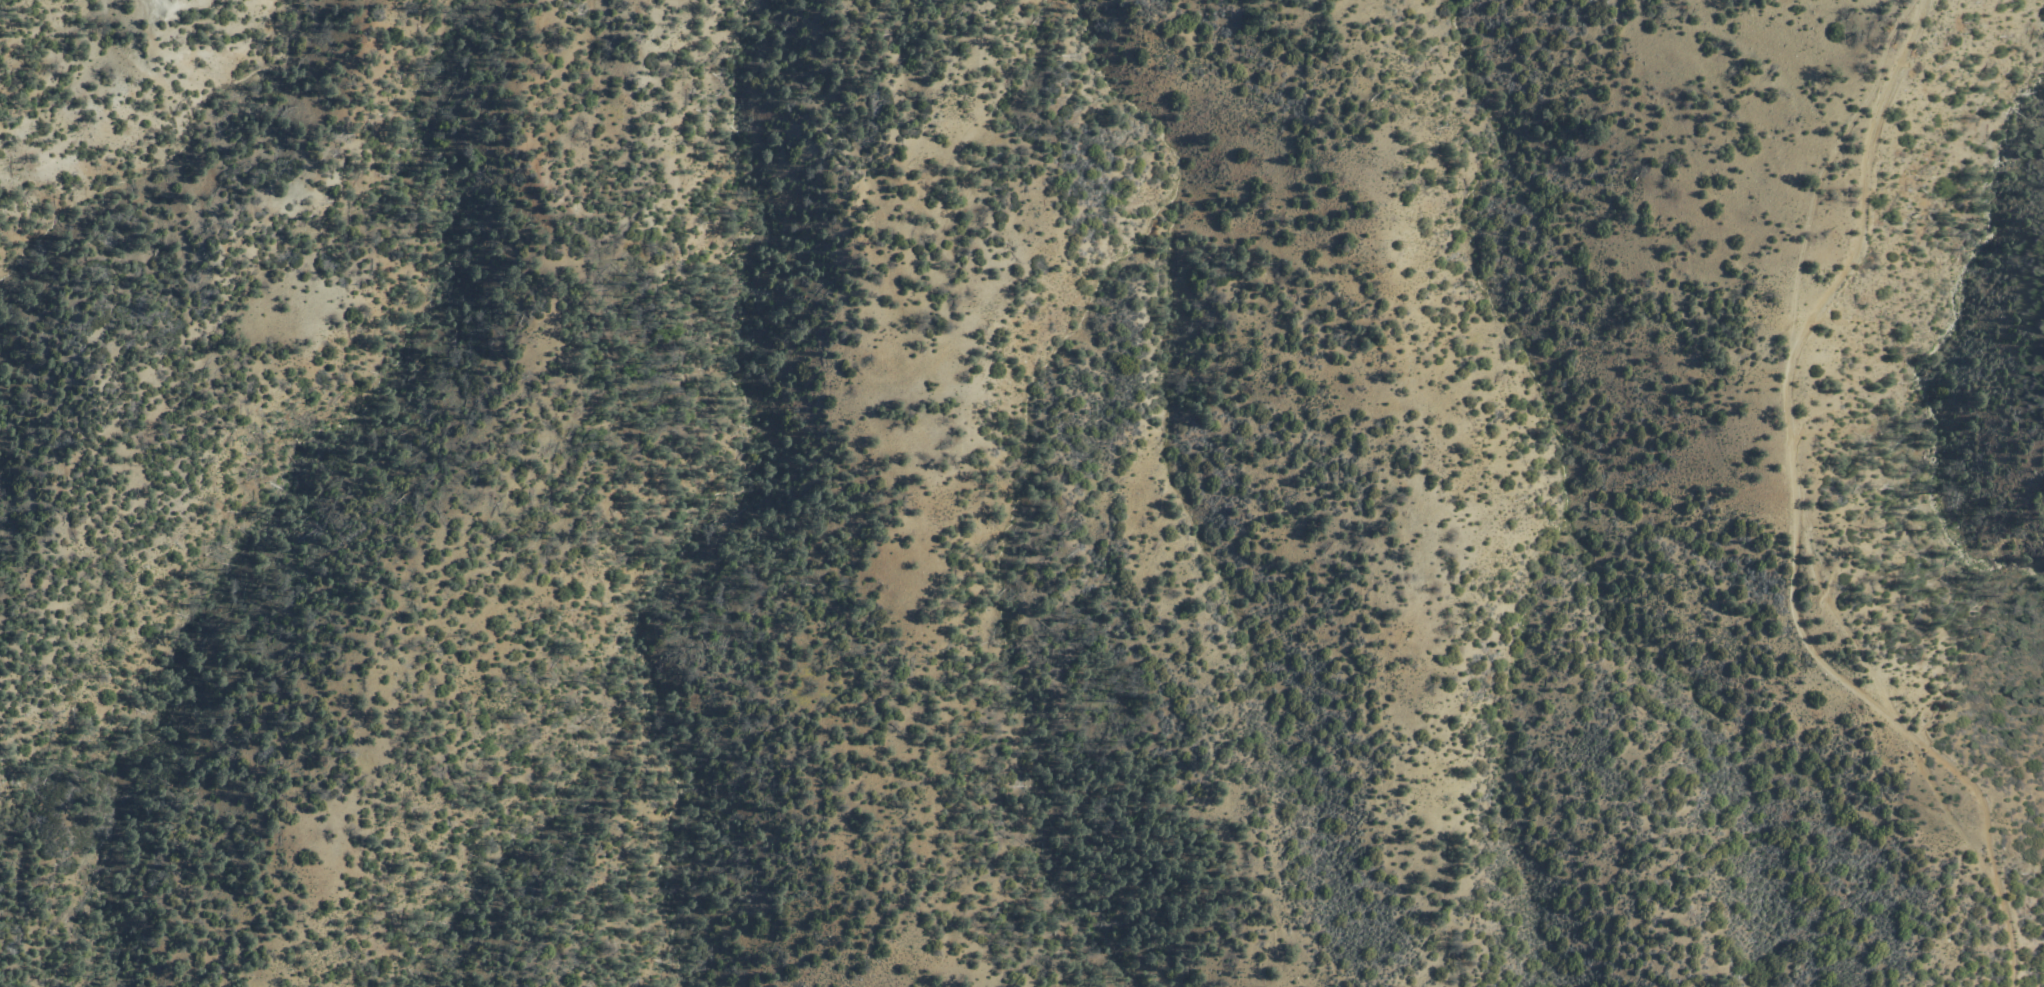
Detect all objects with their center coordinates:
road: (1788, 521)

